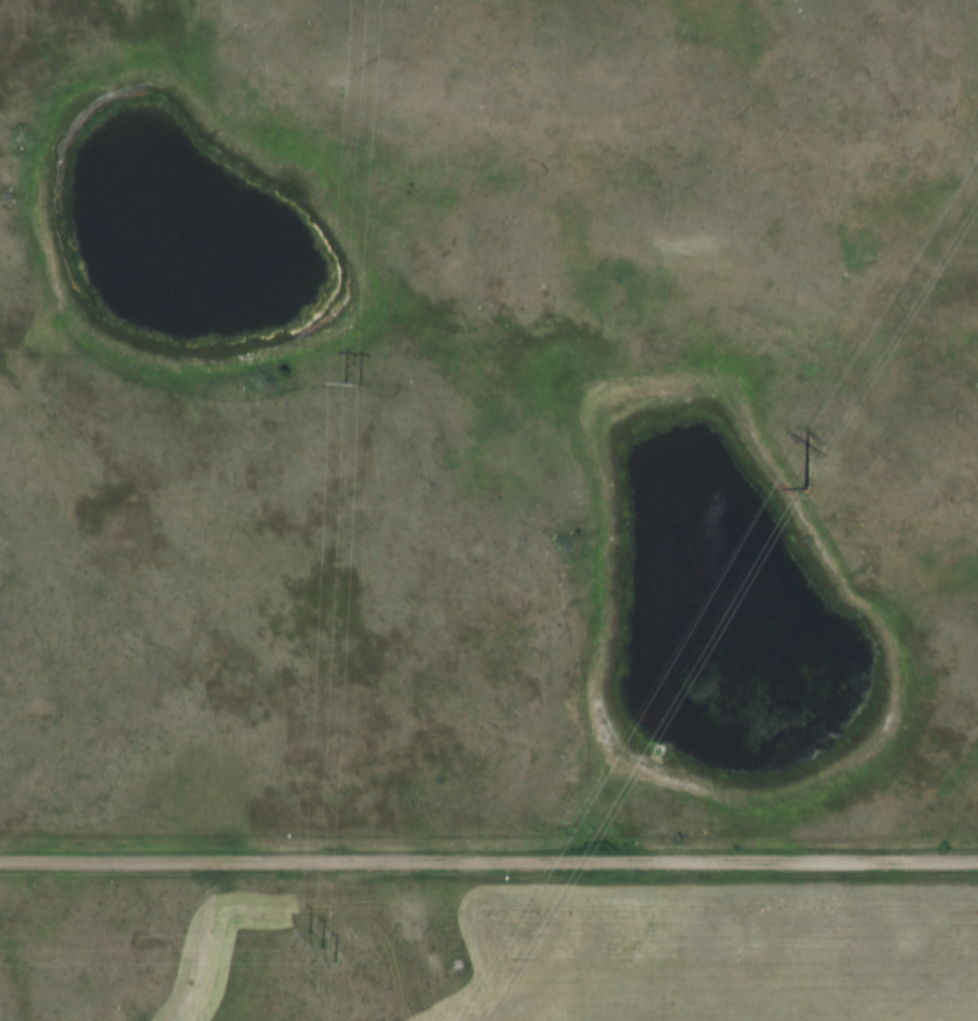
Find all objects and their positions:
power tower: (356, 386)
power tower: (799, 471)
road: (489, 858)
power tower: (319, 946)

